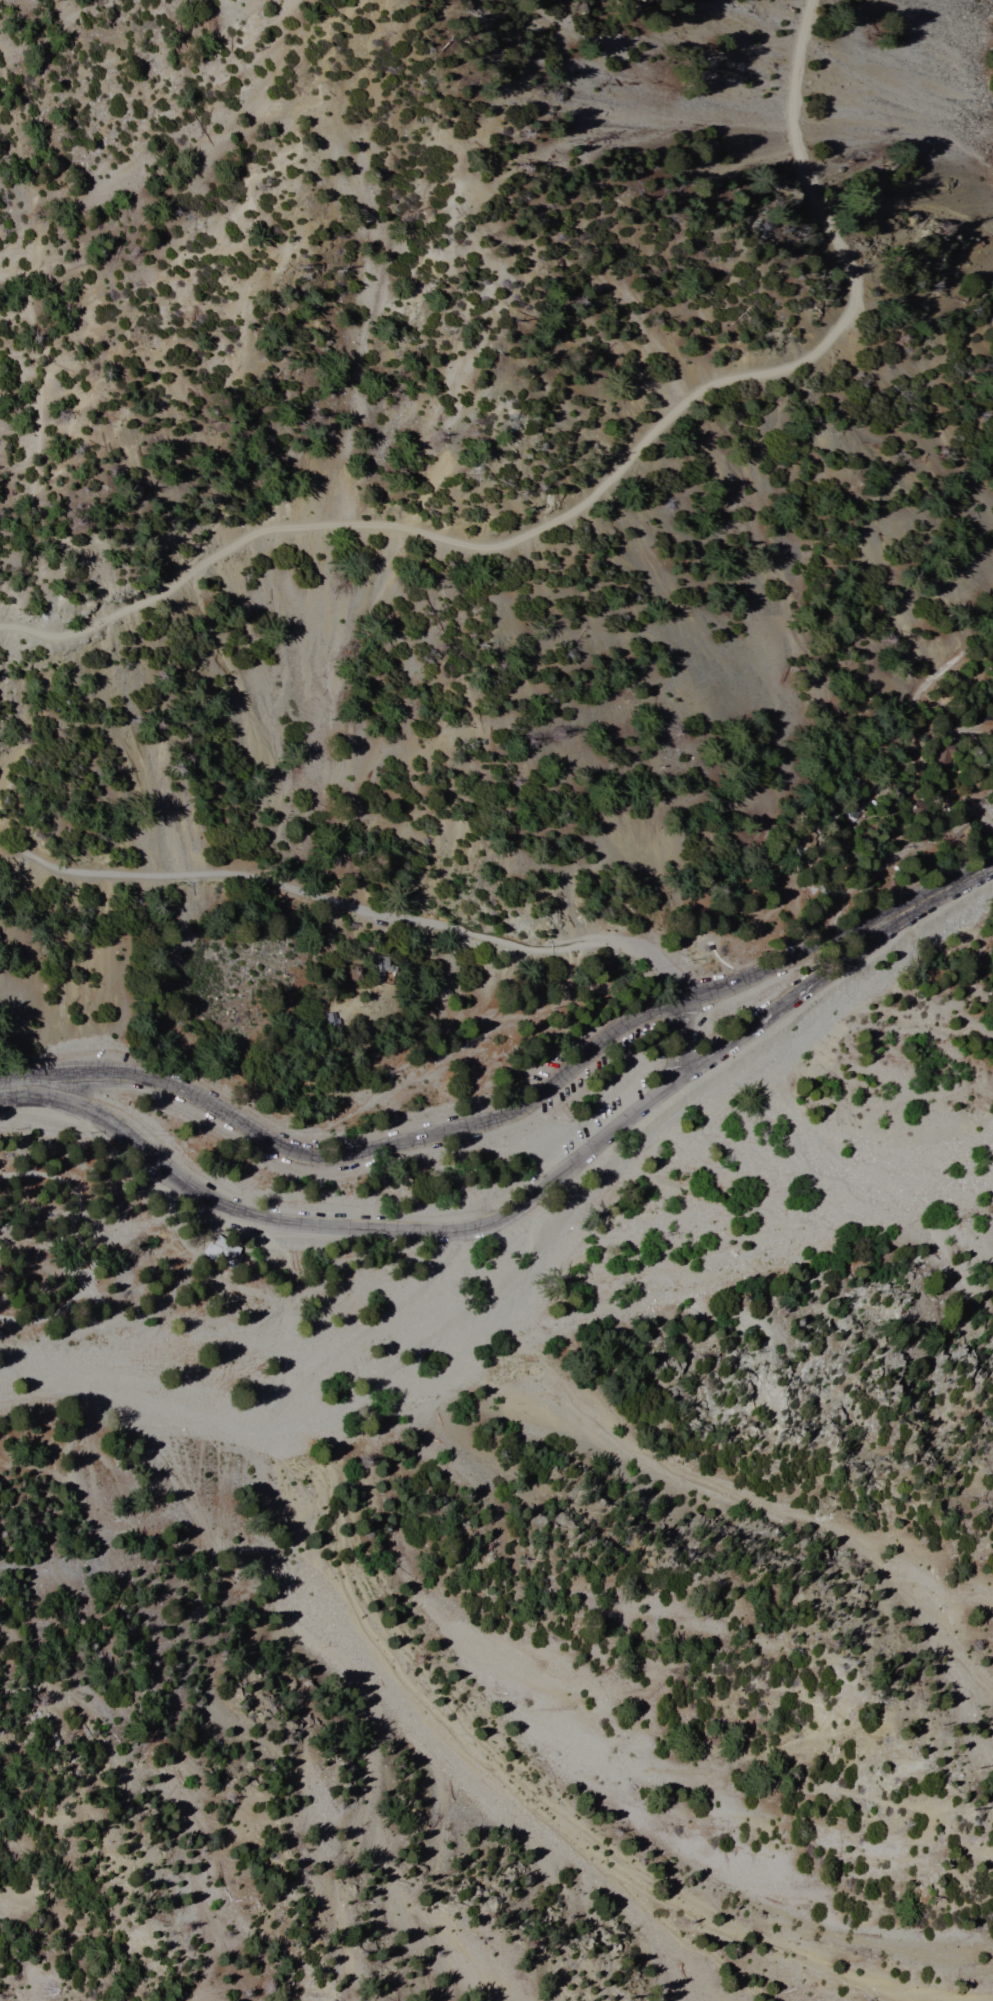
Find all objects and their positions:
ski resort: (983, 82)
road: (797, 138)
road: (224, 247)
road: (39, 405)
road: (473, 544)
road: (962, 883)
road: (389, 917)
building: (705, 948)
road: (719, 960)
building: (378, 966)
building: (325, 1019)
parking lot: (622, 1051)
road: (482, 1123)
road: (499, 1219)
building: (222, 1252)

